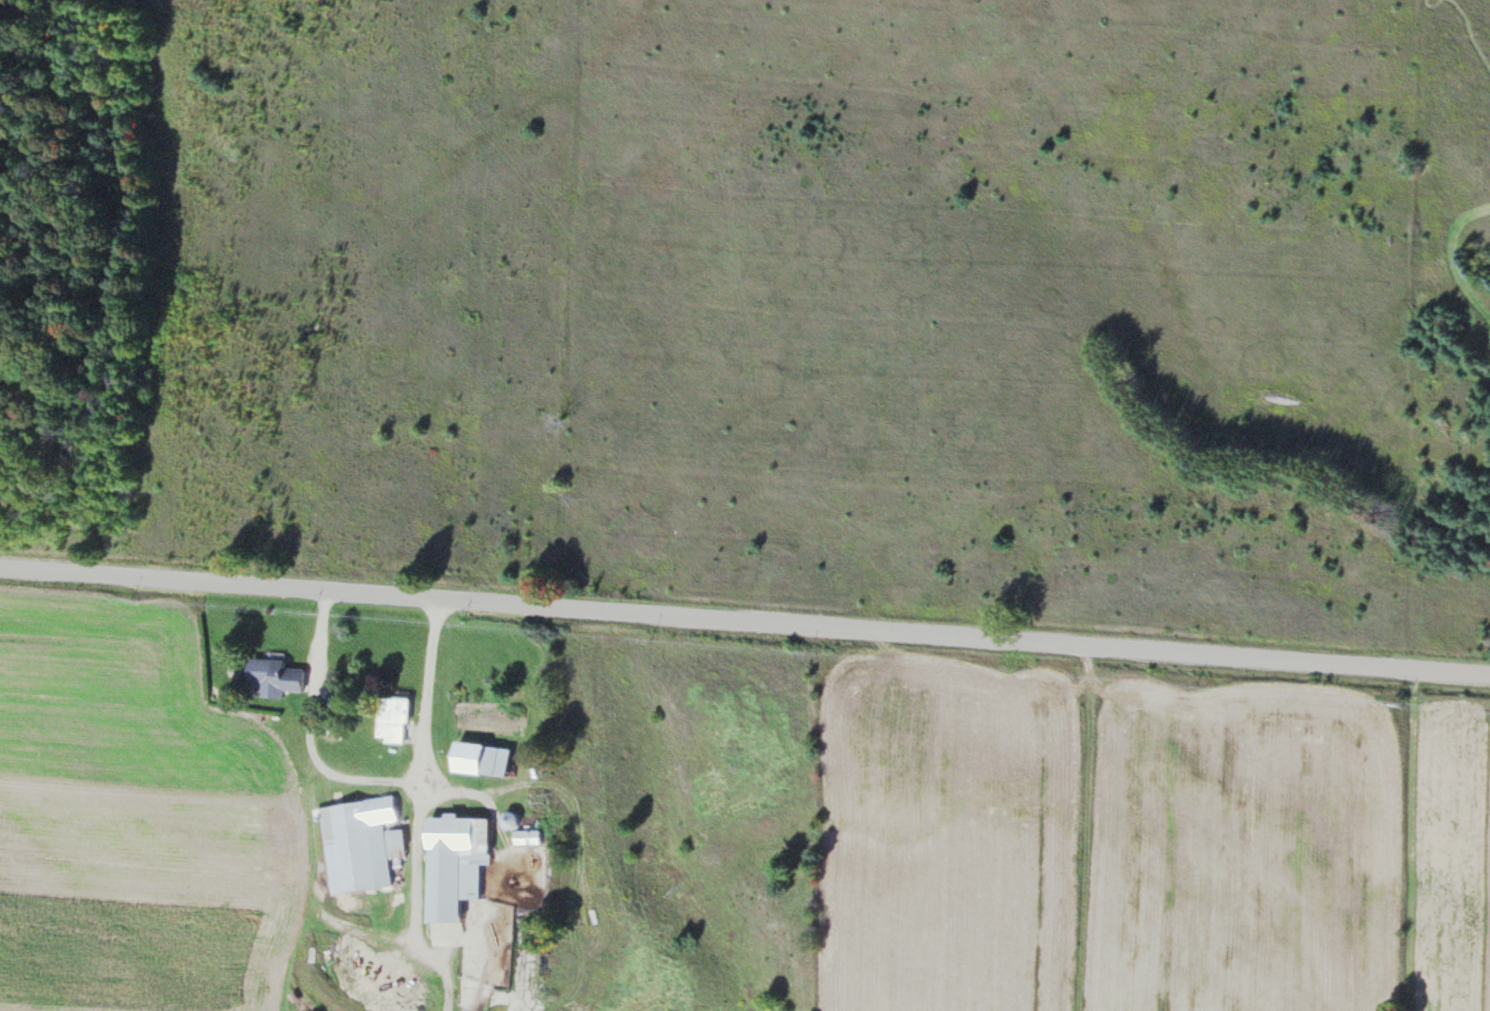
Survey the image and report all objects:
road: (744, 622)
building: (279, 677)
building: (340, 704)
building: (396, 720)
building: (486, 760)
building: (514, 821)
road: (1083, 828)
building: (531, 838)
building: (363, 844)
building: (460, 865)

